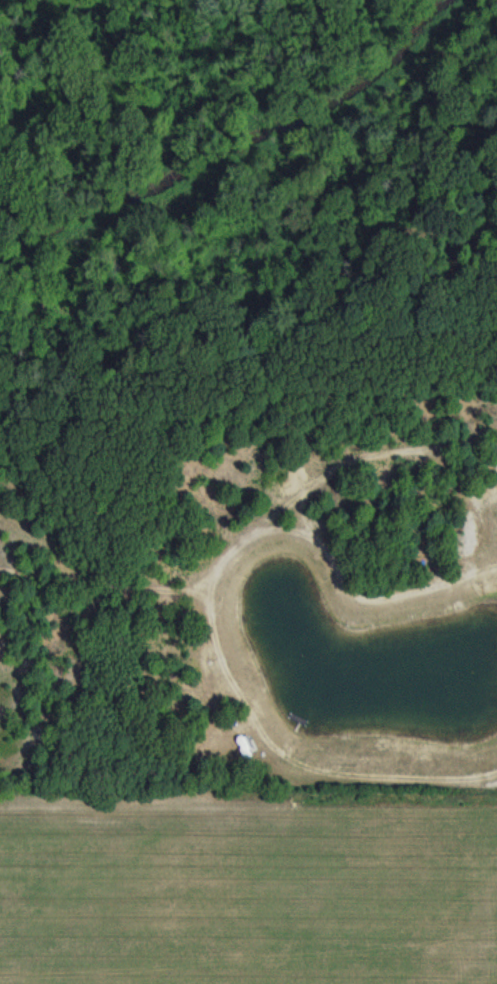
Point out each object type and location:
road: (357, 456)
road: (257, 533)
road: (294, 756)

